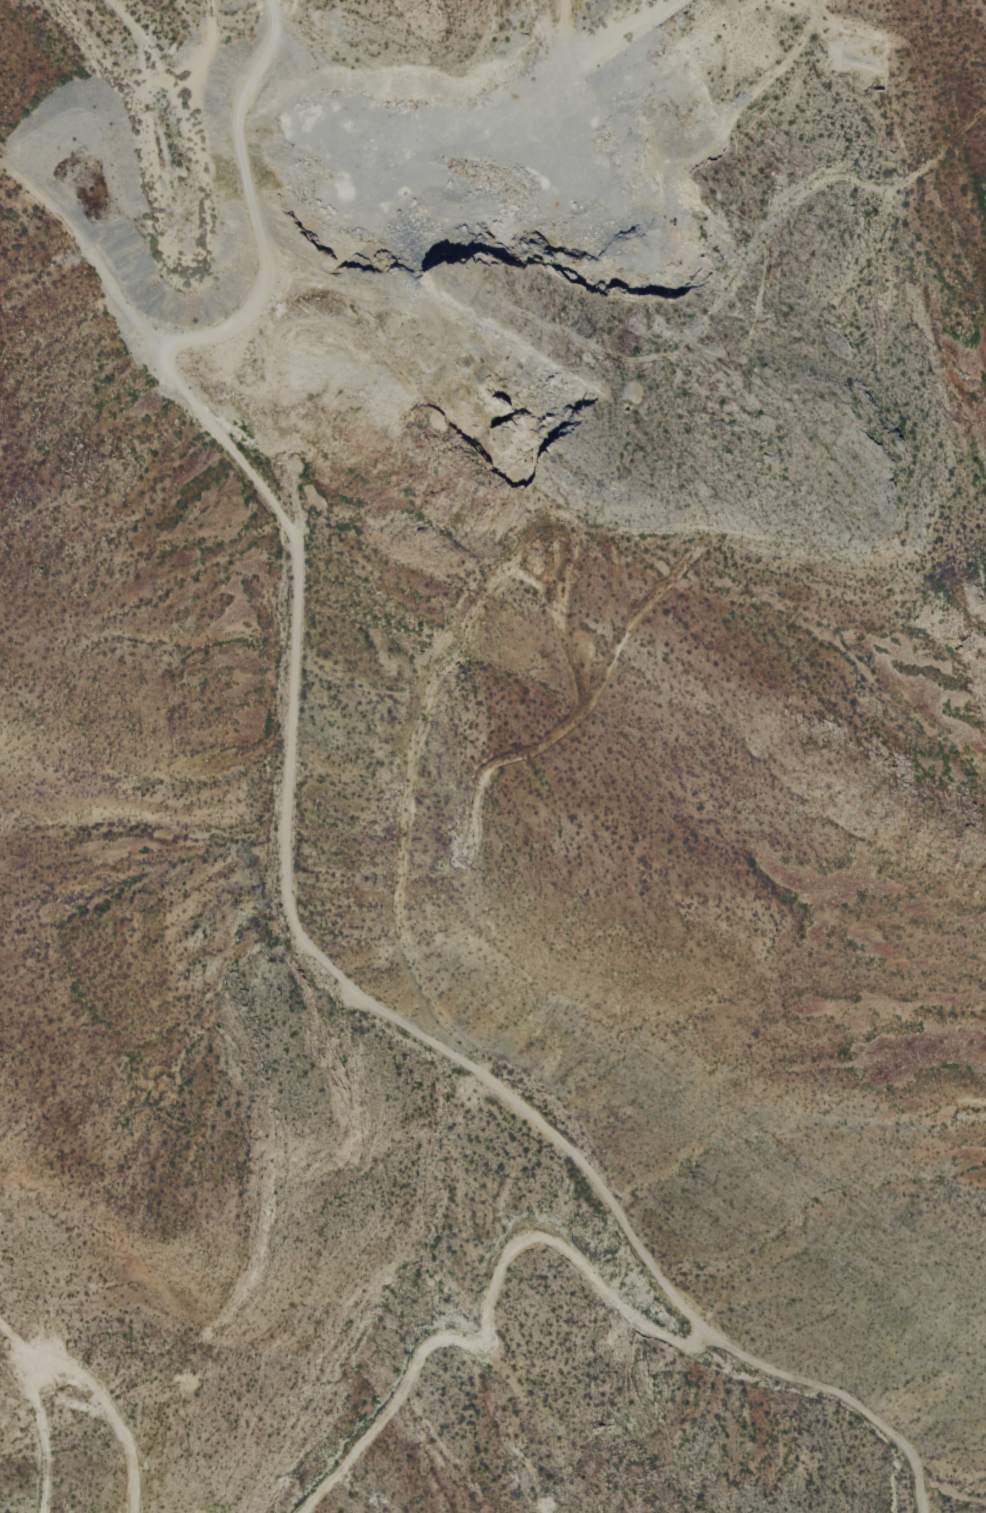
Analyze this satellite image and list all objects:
road: (281, 854)
road: (888, 1436)

